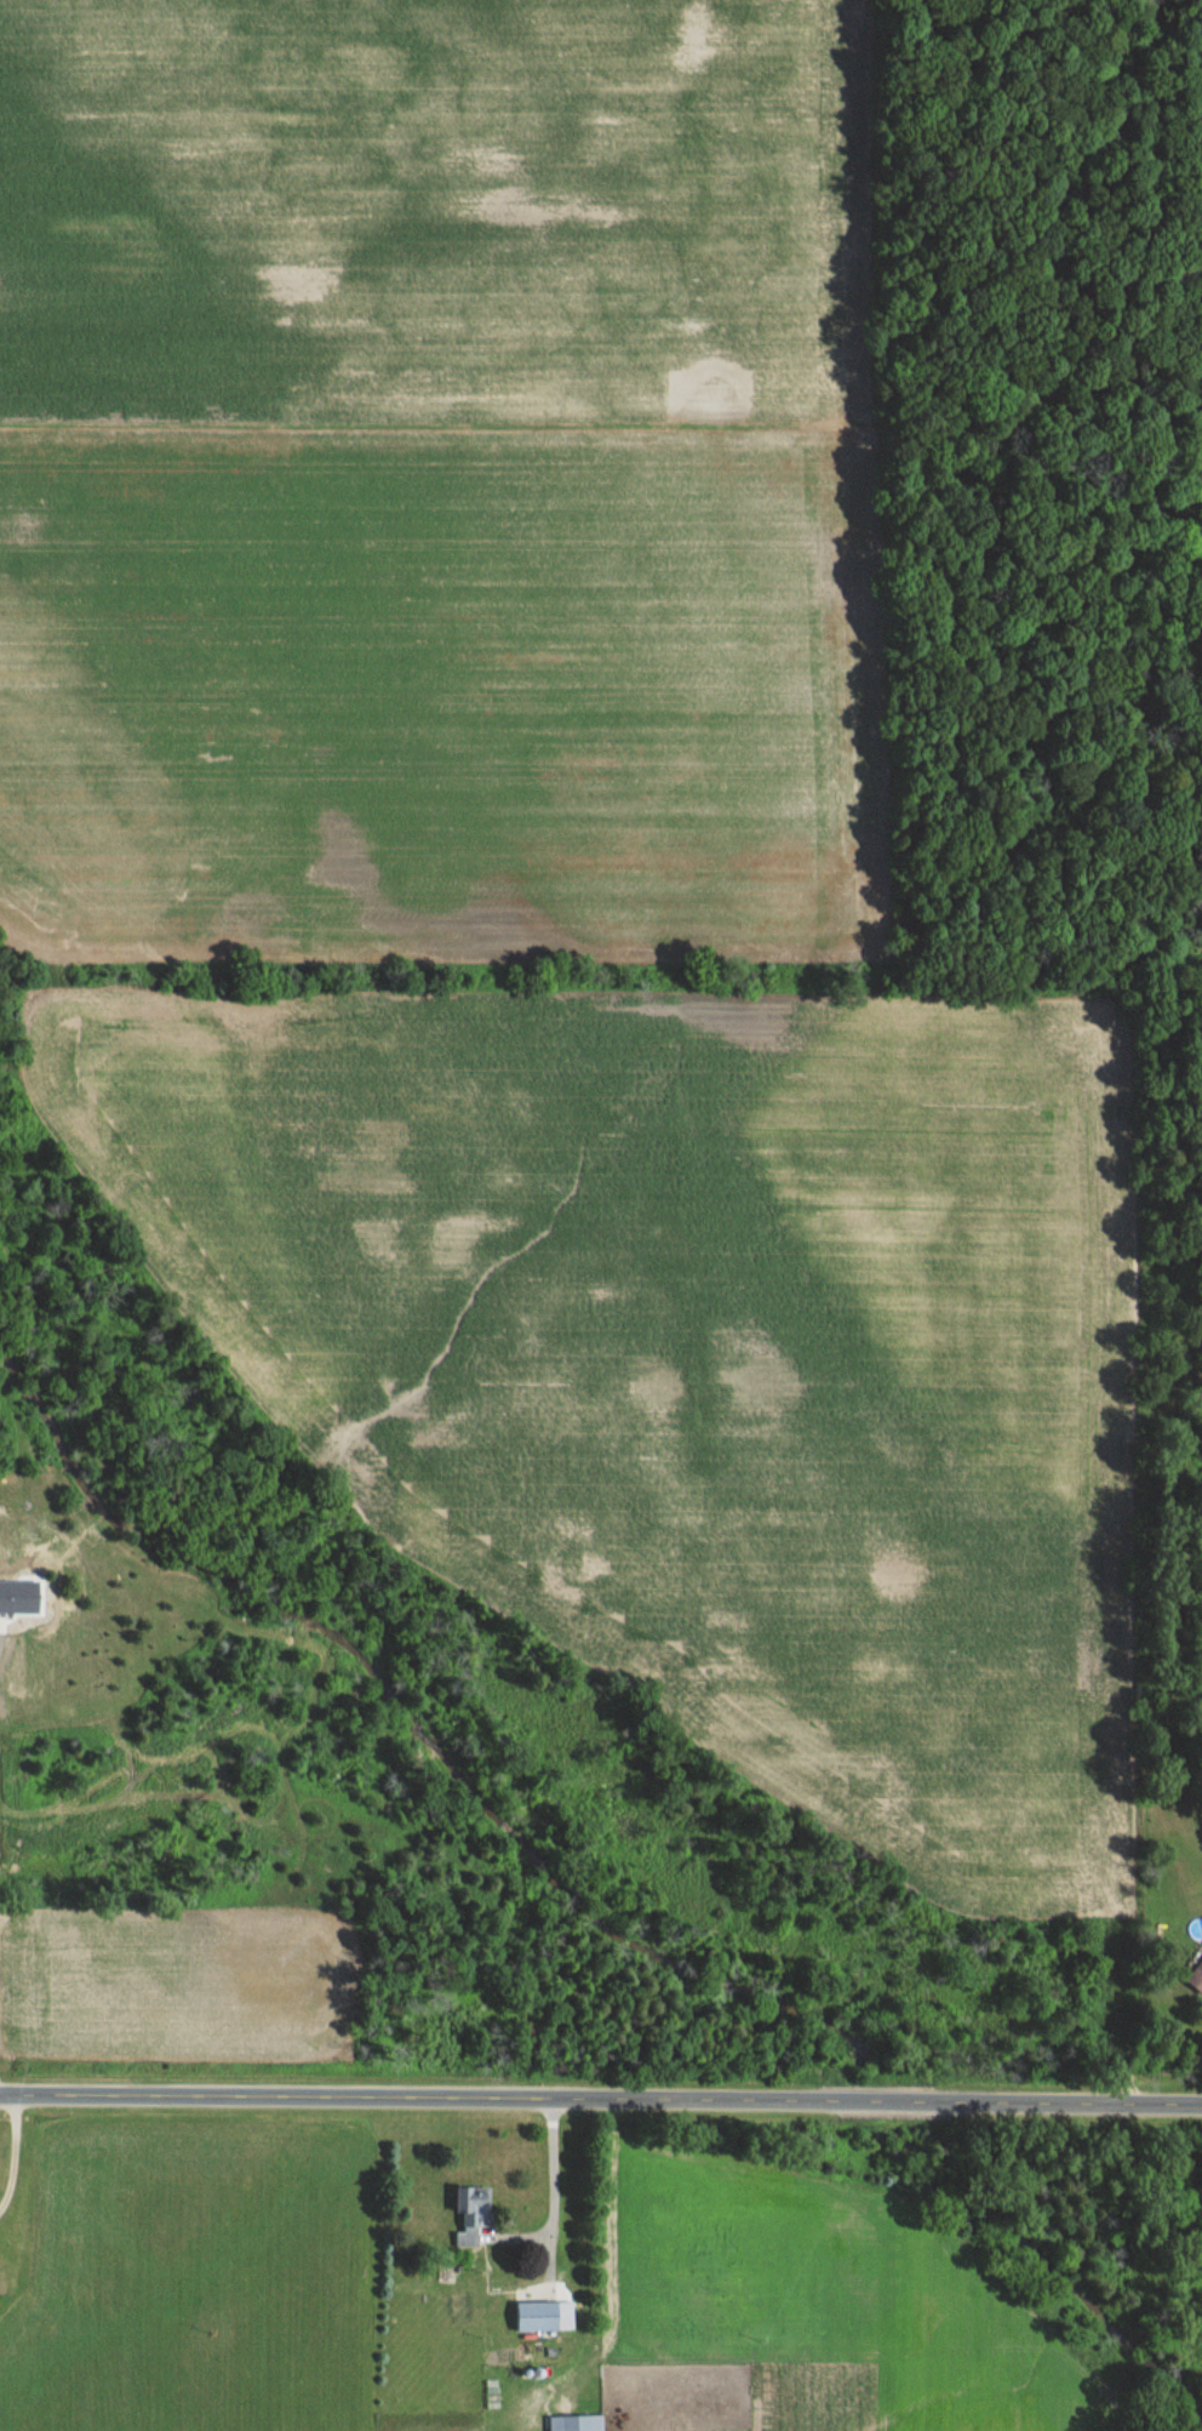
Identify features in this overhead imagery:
building: (1197, 1978)
road: (600, 2099)
road: (10, 2148)
road: (549, 2186)
building: (474, 2210)
building: (542, 2313)
building: (579, 2421)

